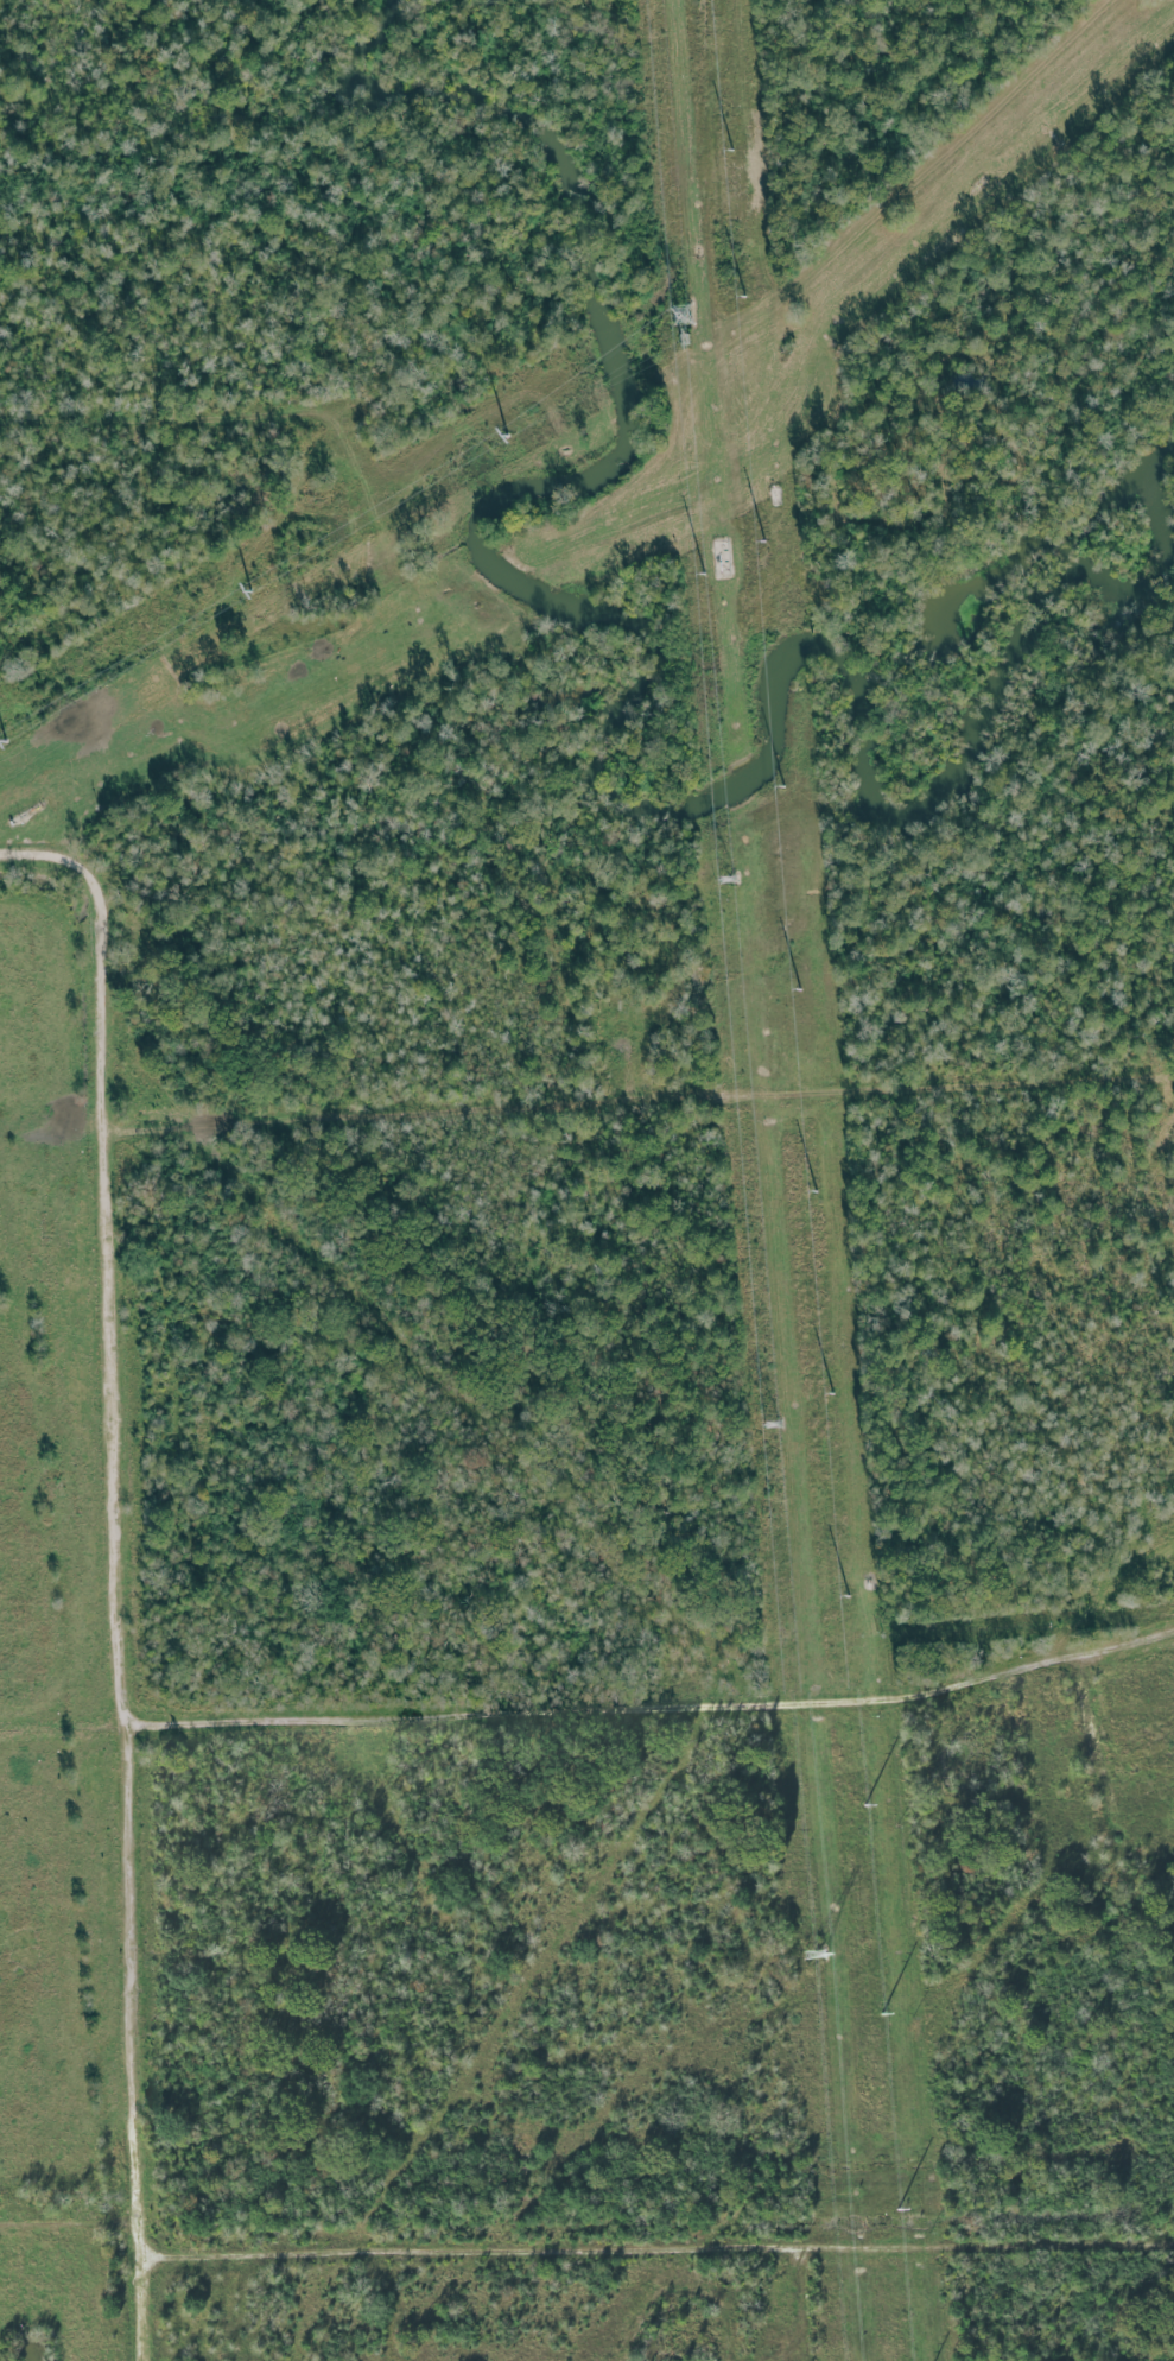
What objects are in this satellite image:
power tower: (681, 315)
power tower: (684, 340)
road: (163, 413)
river: (621, 707)
power tower: (725, 876)
road: (477, 1110)
power tower: (772, 1422)
road: (114, 1570)
road: (654, 1710)
power tower: (818, 1952)
road: (68, 2214)
road: (656, 2251)

